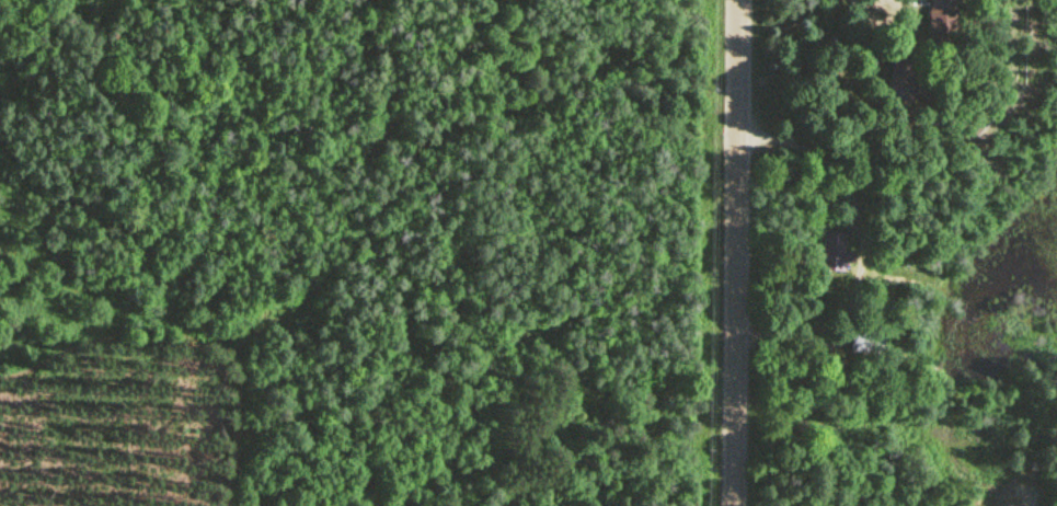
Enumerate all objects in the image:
building: (940, 19)
building: (901, 67)
road: (860, 202)
building: (836, 248)
road: (740, 252)
road: (792, 337)
building: (866, 337)

